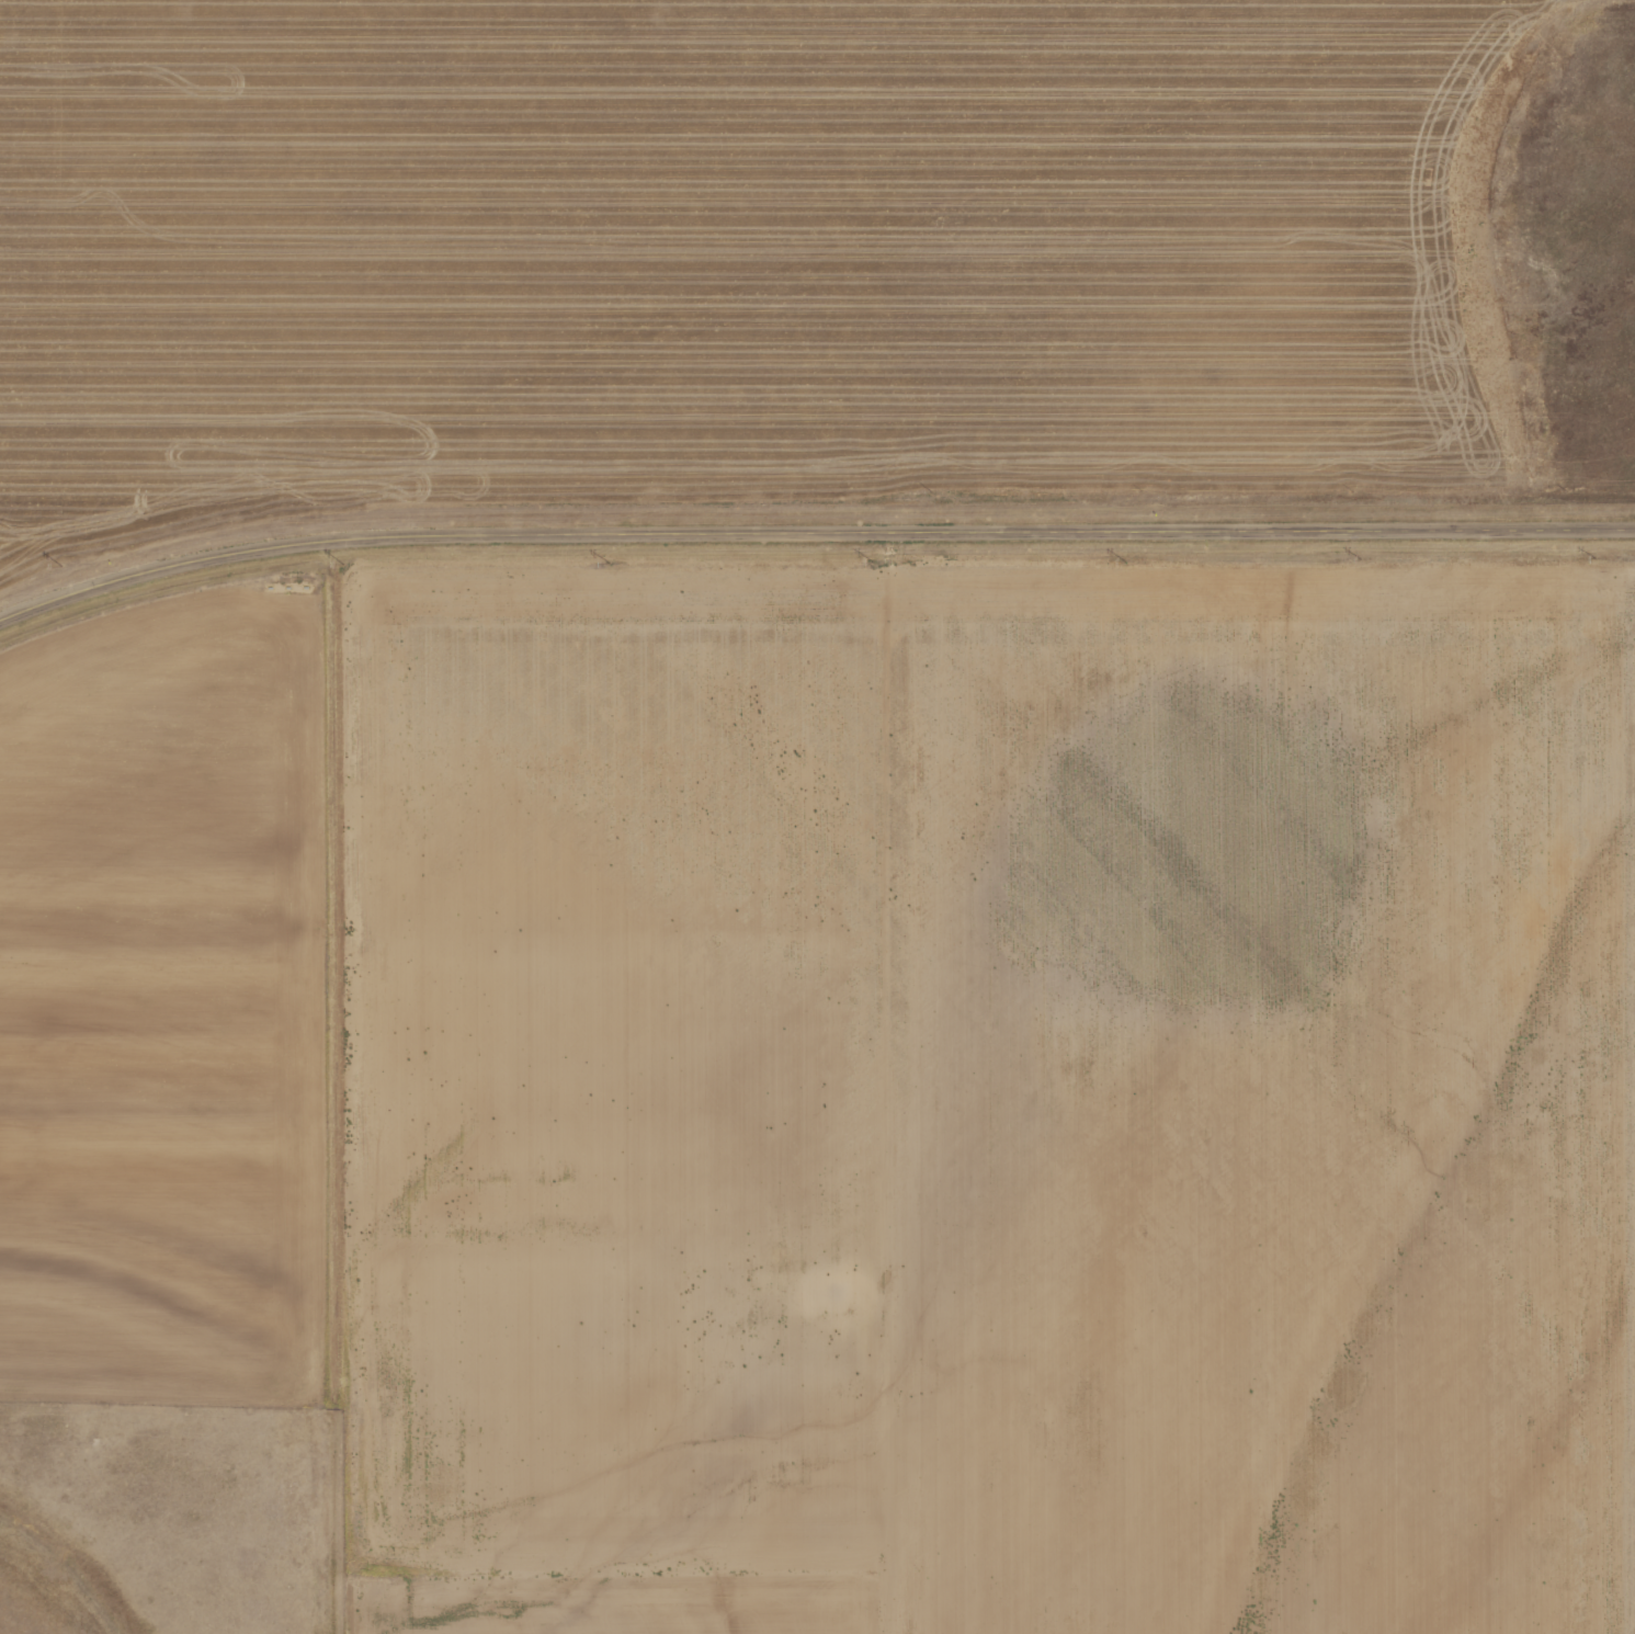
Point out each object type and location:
road: (811, 534)
road: (865, 1083)

